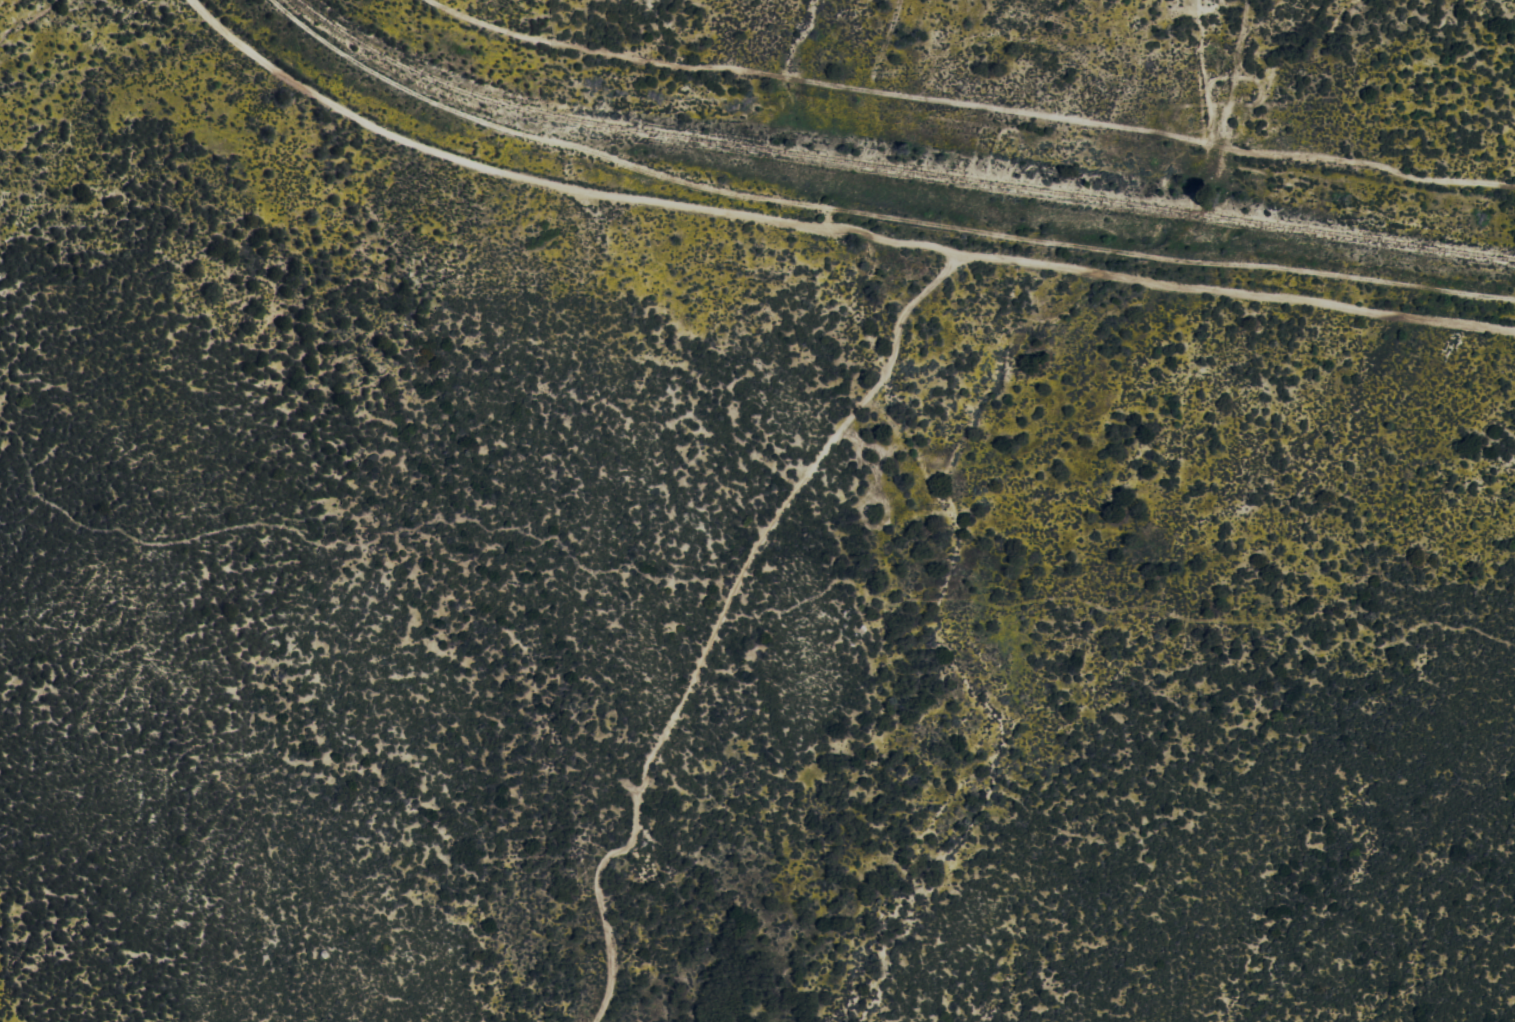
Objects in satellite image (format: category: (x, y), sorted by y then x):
railway: (899, 165)

